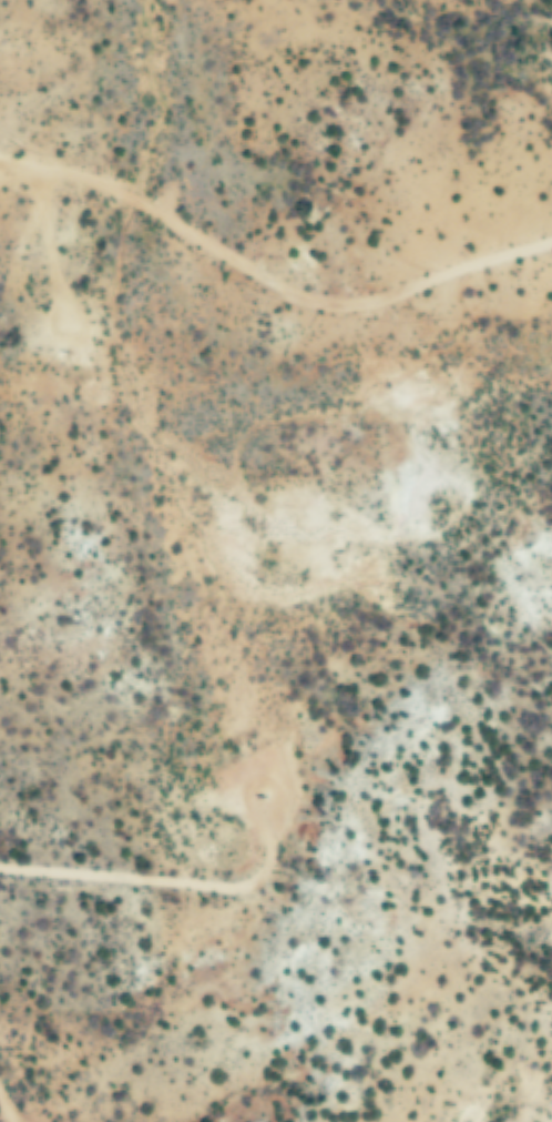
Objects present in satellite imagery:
road: (272, 264)

